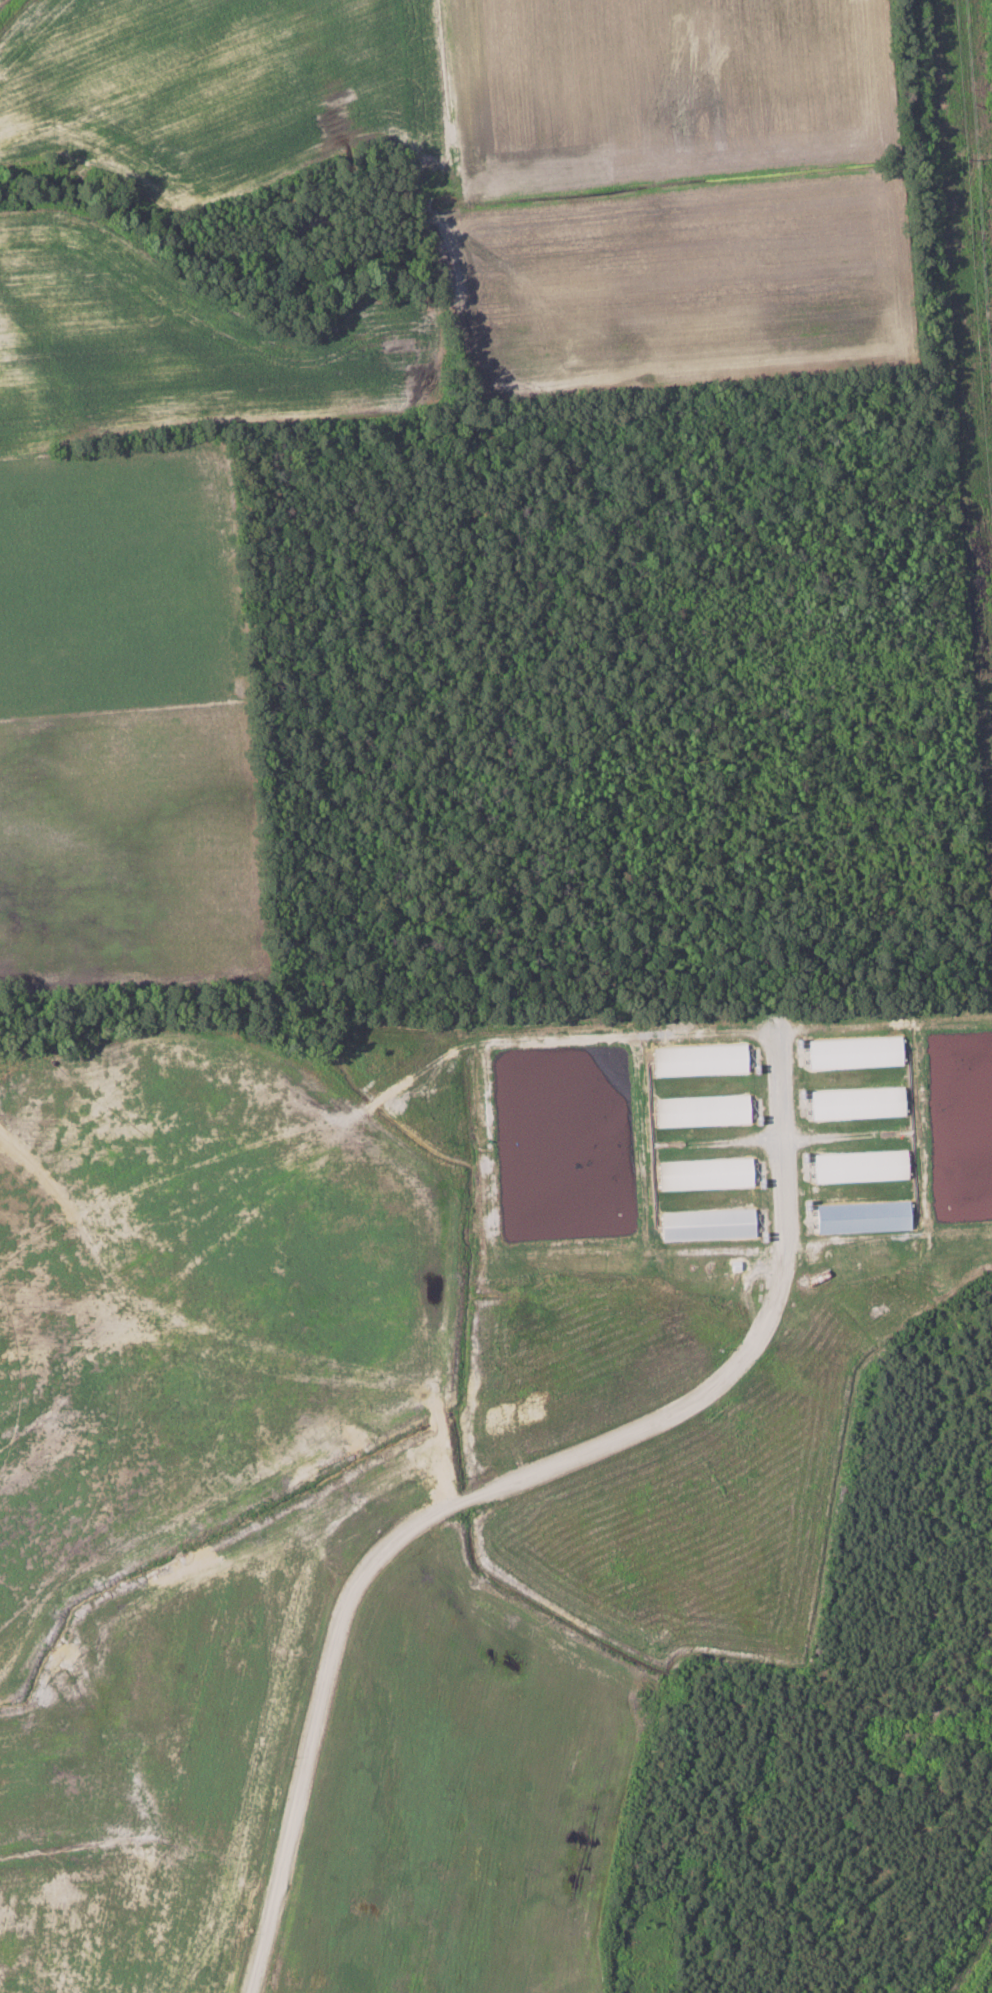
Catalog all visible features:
power tower: (973, 159)
building: (853, 1052)
building: (698, 1059)
building: (855, 1103)
building: (700, 1110)
building: (859, 1166)
building: (704, 1173)
building: (861, 1216)
building: (705, 1224)
road: (499, 1486)

